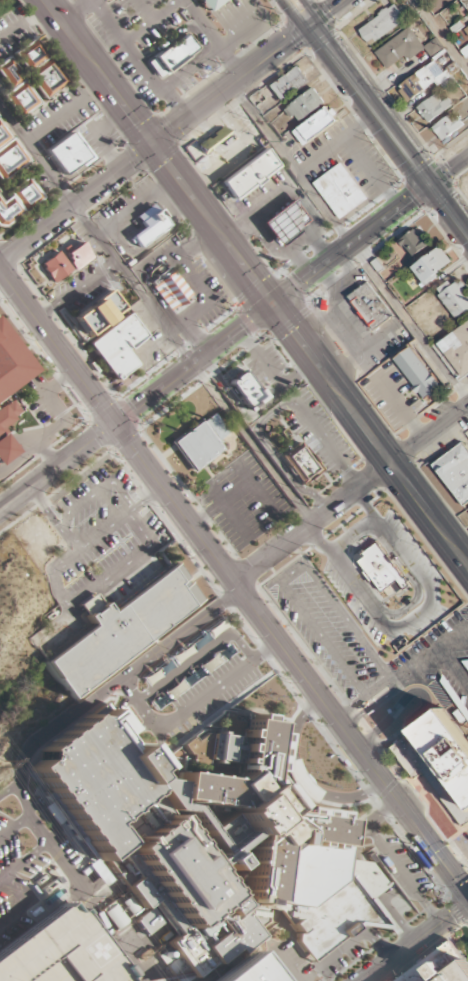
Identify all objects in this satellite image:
road: (84, 2)
building: (209, 3)
building: (465, 3)
railway: (295, 7)
road: (76, 10)
road: (142, 11)
road: (306, 13)
road: (292, 15)
road: (151, 21)
building: (381, 24)
road: (25, 25)
road: (243, 27)
building: (466, 29)
road: (176, 33)
road: (440, 36)
road: (211, 38)
building: (433, 47)
building: (399, 49)
building: (465, 53)
building: (174, 54)
road: (137, 61)
road: (190, 68)
building: (38, 69)
building: (290, 84)
building: (17, 90)
building: (304, 106)
road: (388, 106)
road: (367, 107)
building: (433, 107)
road: (66, 111)
railway: (377, 118)
building: (315, 126)
building: (448, 127)
road: (172, 129)
building: (214, 141)
traffic signals: (152, 144)
road: (36, 154)
building: (66, 154)
building: (9, 155)
road: (447, 171)
building: (247, 174)
building: (341, 191)
building: (17, 201)
road: (448, 213)
building: (286, 221)
building: (149, 226)
road: (349, 242)
building: (413, 243)
building: (65, 263)
building: (432, 265)
road: (255, 283)
road: (267, 286)
building: (168, 289)
building: (454, 297)
building: (327, 304)
road: (271, 305)
traffic signals: (272, 305)
building: (370, 306)
road: (288, 313)
building: (98, 314)
building: (117, 346)
road: (57, 348)
building: (457, 349)
road: (192, 364)
railway: (53, 366)
building: (10, 367)
building: (416, 373)
building: (261, 376)
building: (244, 390)
traffic signals: (115, 425)
building: (1, 431)
building: (200, 443)
road: (63, 461)
building: (298, 464)
building: (455, 472)
road: (350, 494)
road: (6, 498)
road: (6, 501)
road: (174, 503)
road: (8, 509)
building: (381, 571)
road: (236, 586)
railway: (234, 601)
parking lot: (377, 605)
building: (109, 634)
road: (140, 705)
road: (298, 725)
road: (353, 742)
building: (439, 761)
power tower: (0, 764)
railway: (356, 770)
road: (300, 779)
road: (351, 798)
road: (368, 824)
building: (212, 842)
parking lot: (23, 857)
road: (366, 874)
road: (403, 874)
road: (379, 895)
road: (376, 904)
road: (367, 916)
building: (114, 917)
road: (397, 922)
road: (367, 927)
road: (416, 942)
road: (380, 946)
power tower: (139, 950)
building: (58, 952)
parking garage: (58, 952)
helipad: (86, 952)
road: (335, 955)
building: (440, 965)
building: (243, 971)

